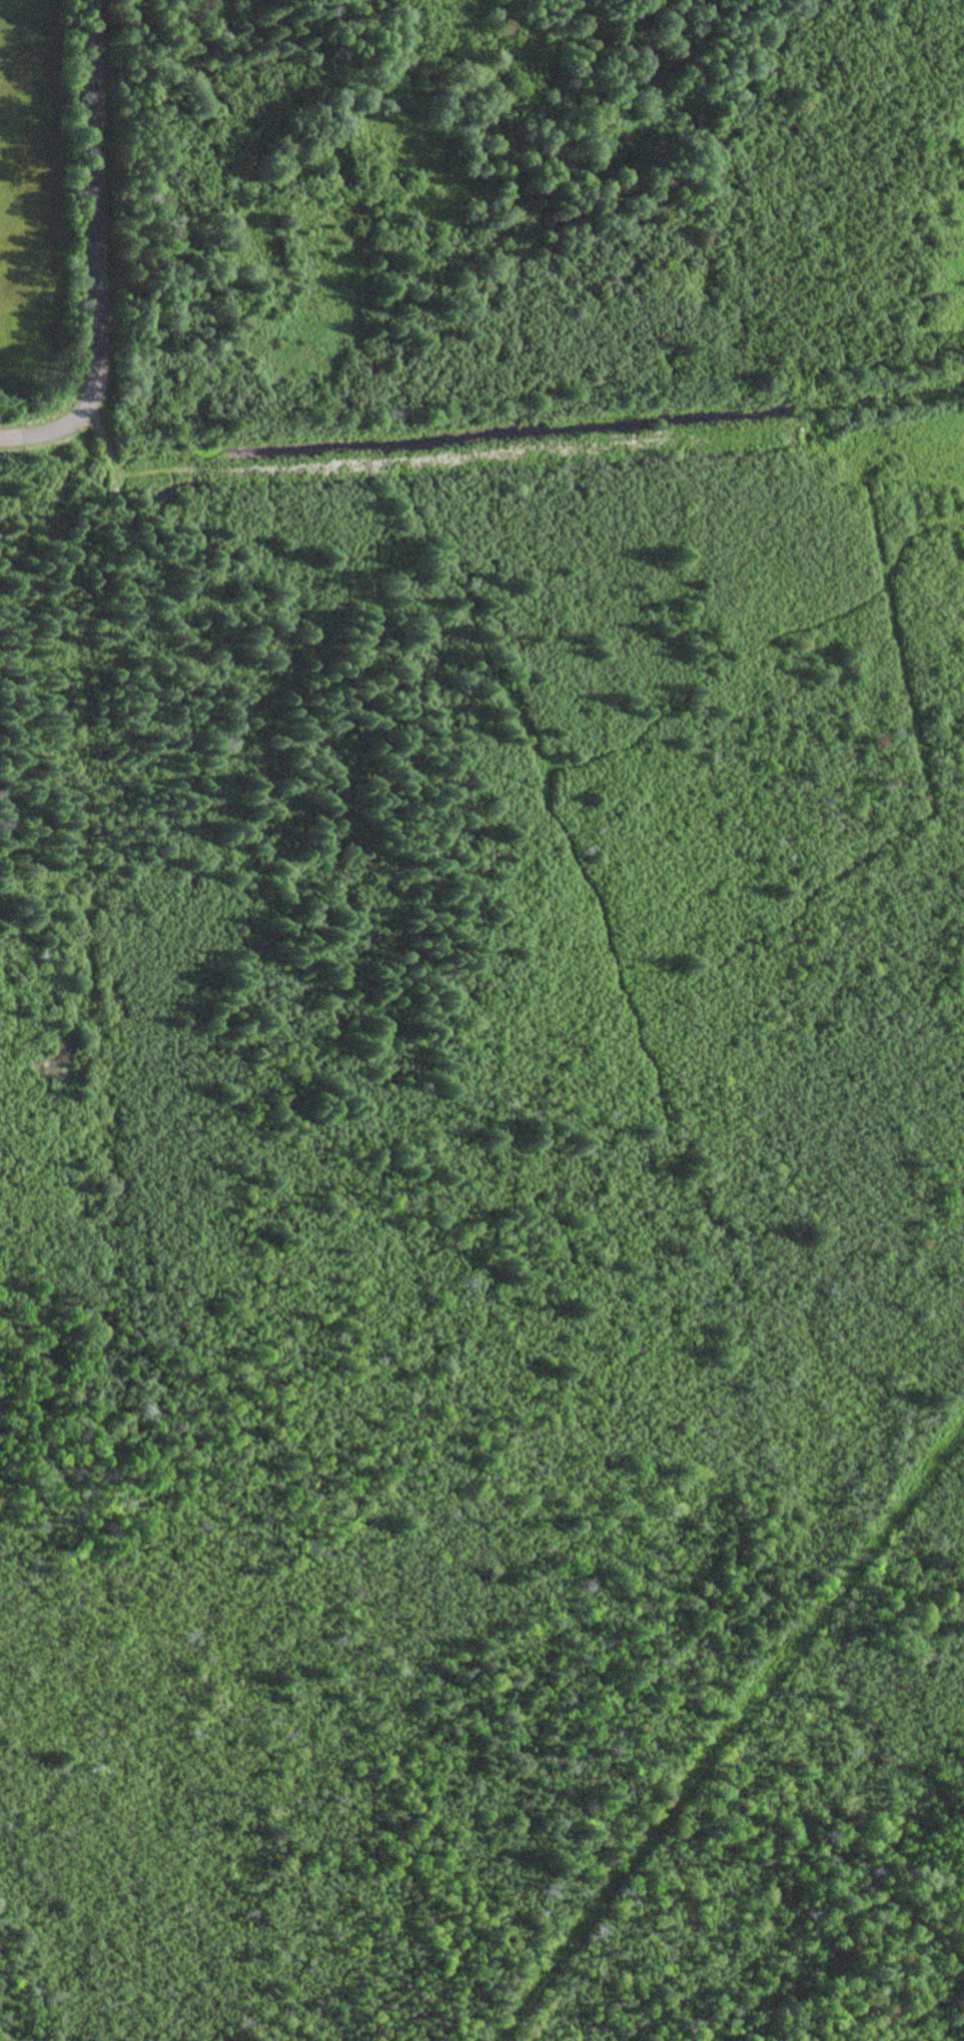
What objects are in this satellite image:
road: (95, 193)
road: (58, 430)

